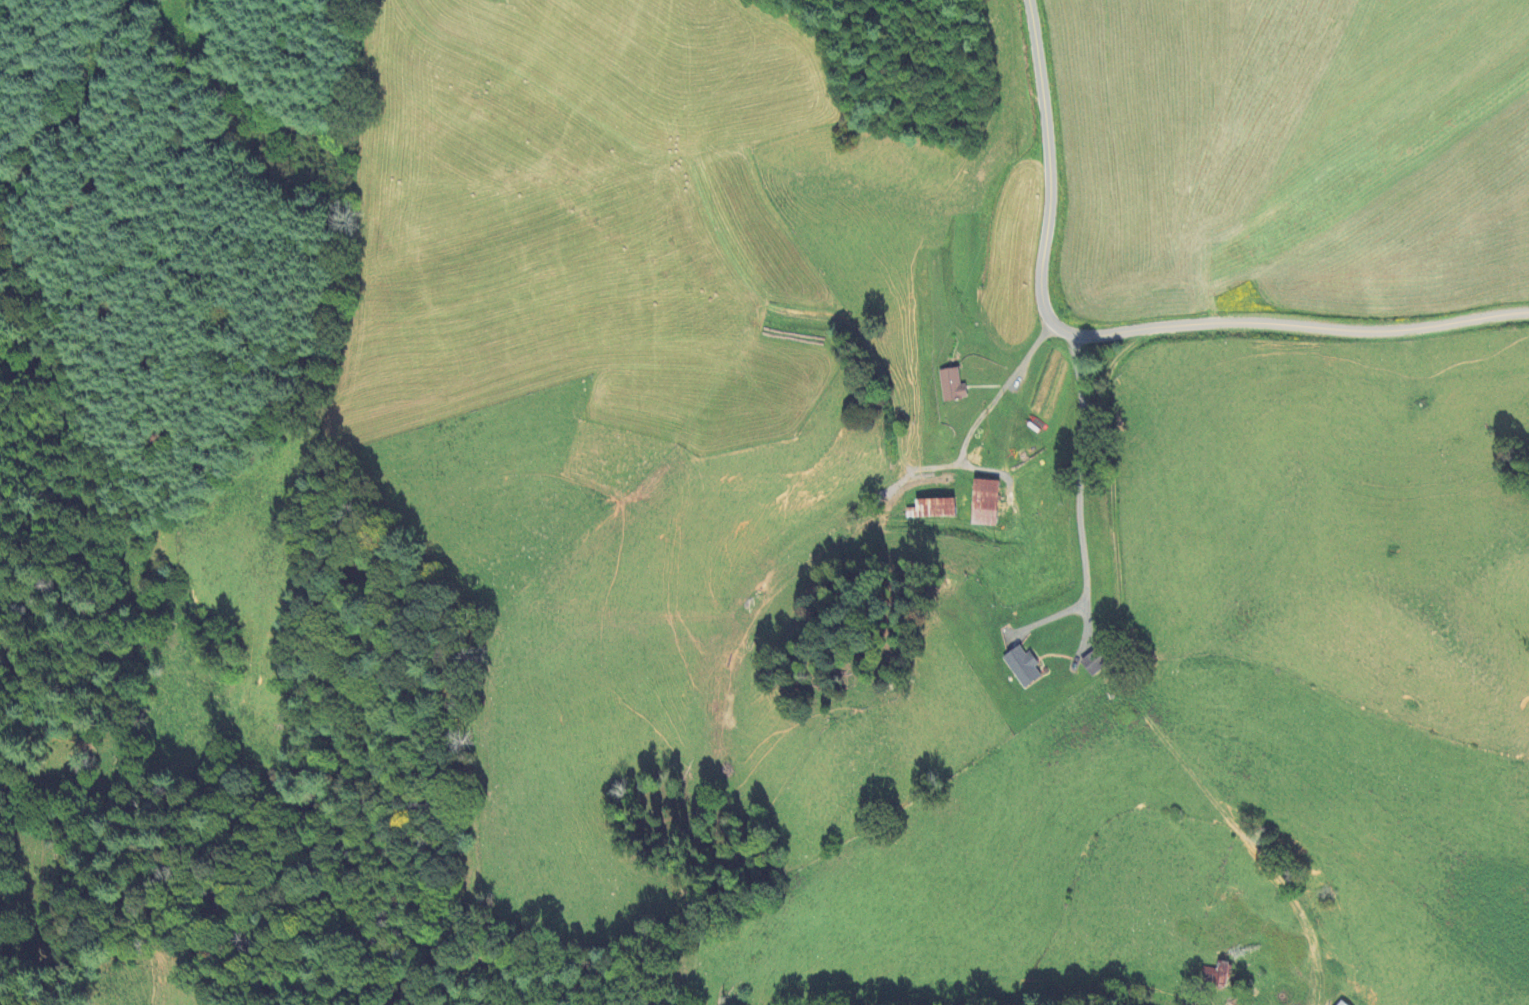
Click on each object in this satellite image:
road: (1124, 322)
building: (951, 385)
road: (1079, 492)
building: (983, 503)
building: (934, 508)
building: (1092, 662)
building: (1021, 666)
building: (1215, 975)

